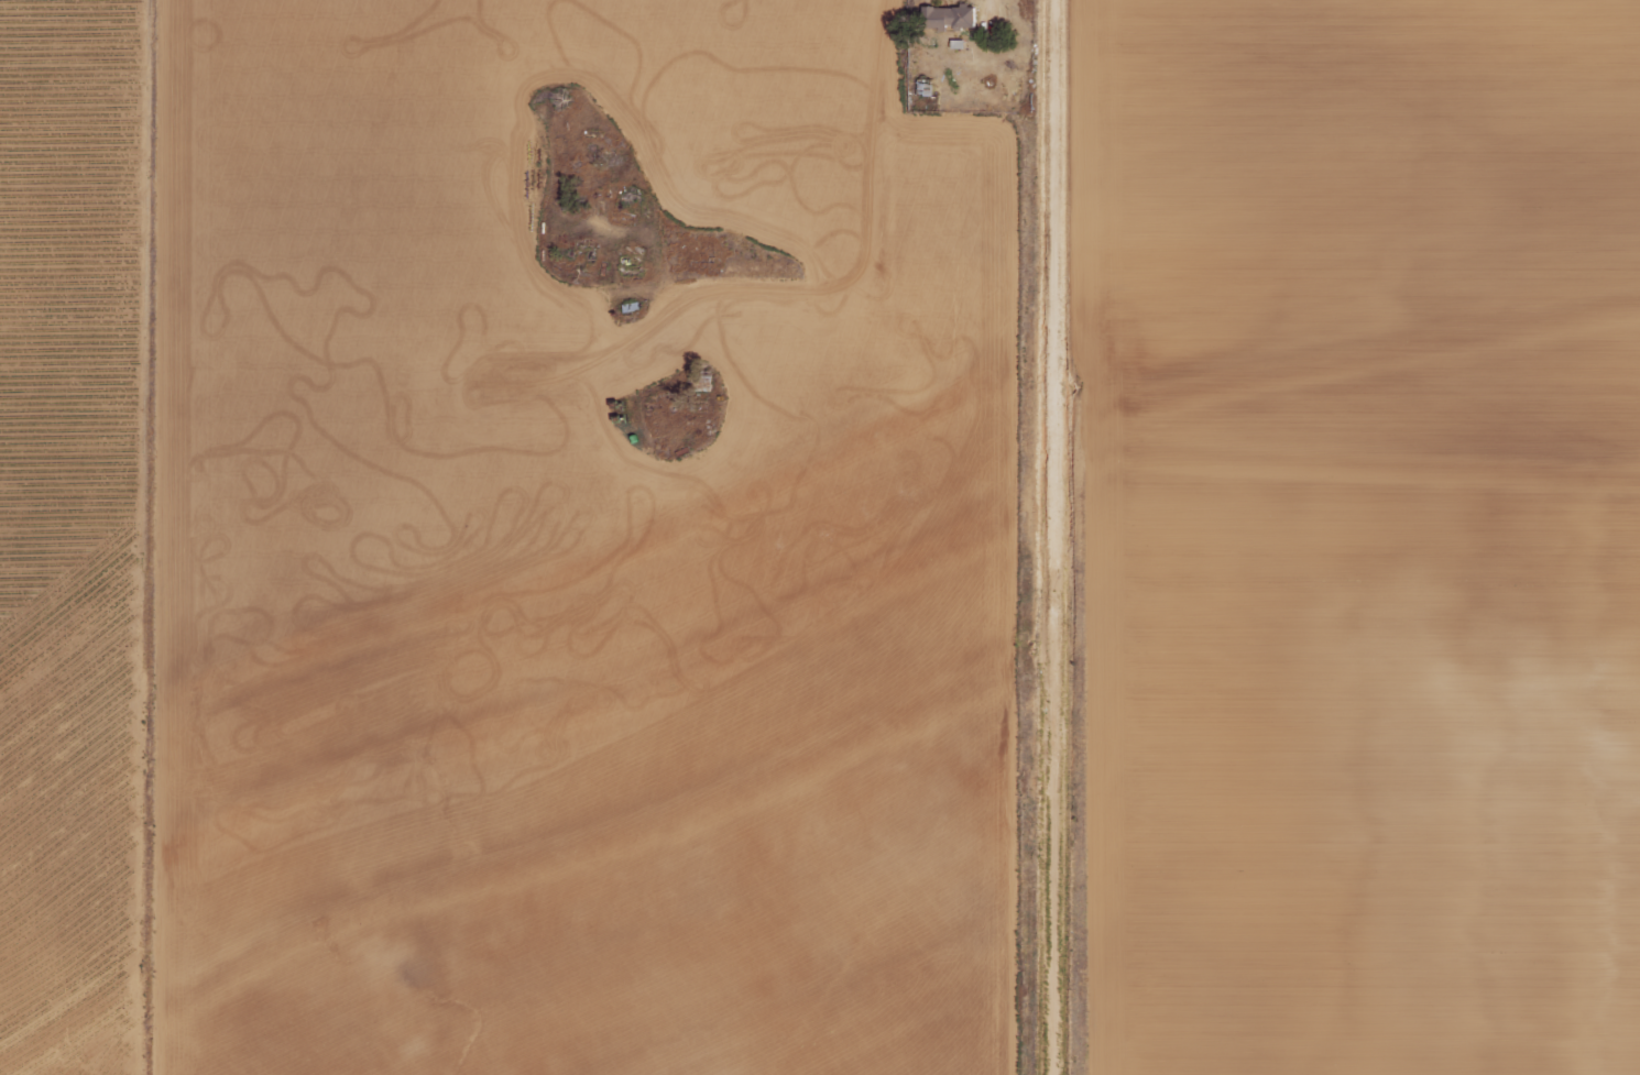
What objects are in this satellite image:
road: (1047, 537)

